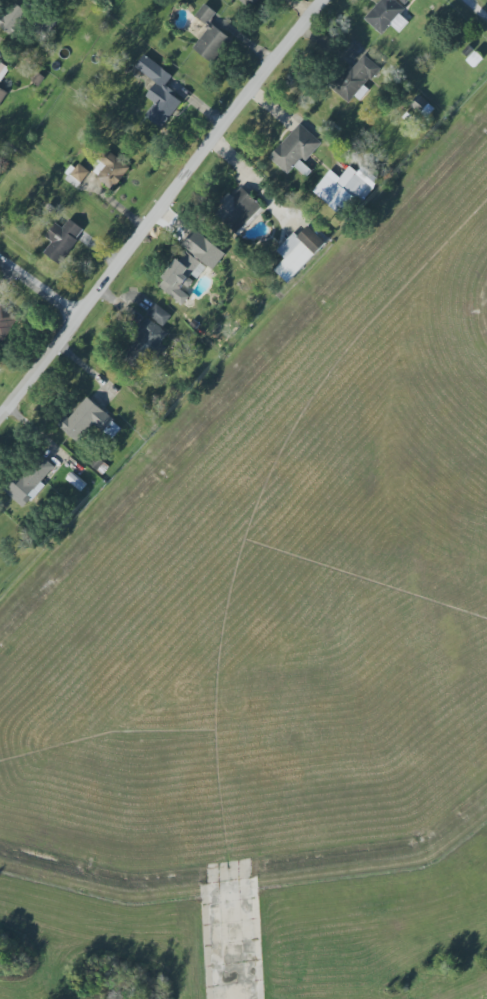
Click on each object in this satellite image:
road: (484, 1)
building: (249, 3)
building: (385, 14)
building: (12, 17)
building: (399, 23)
building: (210, 36)
building: (3, 70)
building: (356, 78)
building: (159, 93)
building: (2, 94)
building: (295, 149)
building: (110, 170)
building: (78, 176)
building: (346, 188)
road: (162, 208)
building: (238, 211)
building: (62, 240)
building: (208, 253)
building: (298, 253)
building: (182, 277)
road: (42, 287)
building: (160, 315)
building: (6, 322)
building: (145, 345)
building: (89, 422)
building: (29, 481)

